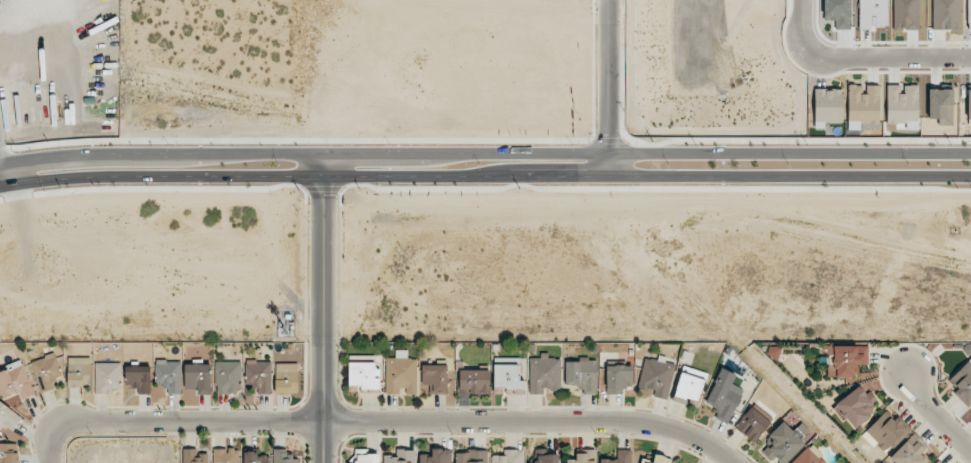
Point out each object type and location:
building: (969, 13)
building: (906, 15)
road: (415, 16)
road: (861, 62)
road: (613, 90)
building: (902, 103)
building: (968, 104)
building: (941, 105)
building: (827, 106)
building: (863, 106)
road: (485, 156)
road: (485, 180)
road: (322, 322)
building: (847, 360)
building: (46, 372)
building: (78, 372)
building: (364, 374)
building: (400, 374)
building: (544, 374)
building: (582, 374)
building: (169, 375)
building: (259, 376)
building: (507, 376)
building: (657, 376)
building: (107, 377)
building: (197, 377)
building: (227, 377)
building: (138, 378)
building: (286, 378)
building: (435, 378)
building: (15, 381)
building: (473, 381)
building: (962, 382)
building: (689, 384)
building: (724, 395)
building: (856, 406)
road: (938, 416)
building: (8, 417)
road: (397, 419)
building: (753, 423)
building: (884, 431)
building: (784, 442)
road: (54, 446)
building: (910, 451)
building: (9, 453)
building: (225, 455)
building: (194, 456)
building: (366, 456)
building: (437, 456)
building: (470, 456)
building: (545, 456)
building: (809, 456)
building: (255, 457)
building: (283, 457)
building: (401, 457)
building: (509, 457)
building: (582, 457)
building: (619, 457)
building: (656, 460)
building: (937, 461)

